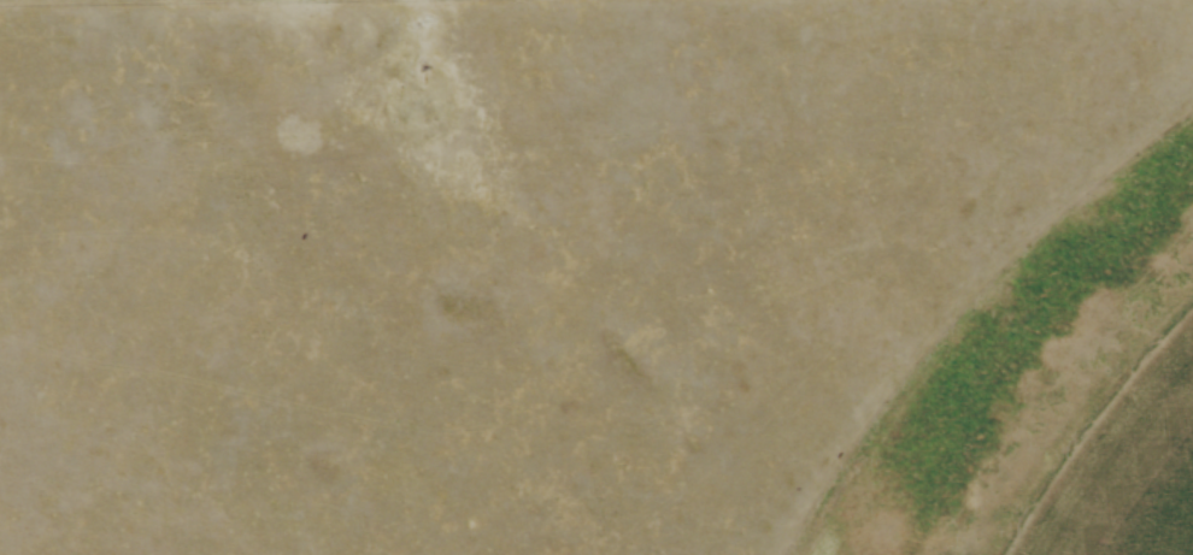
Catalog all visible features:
crop: (1134, 476)

